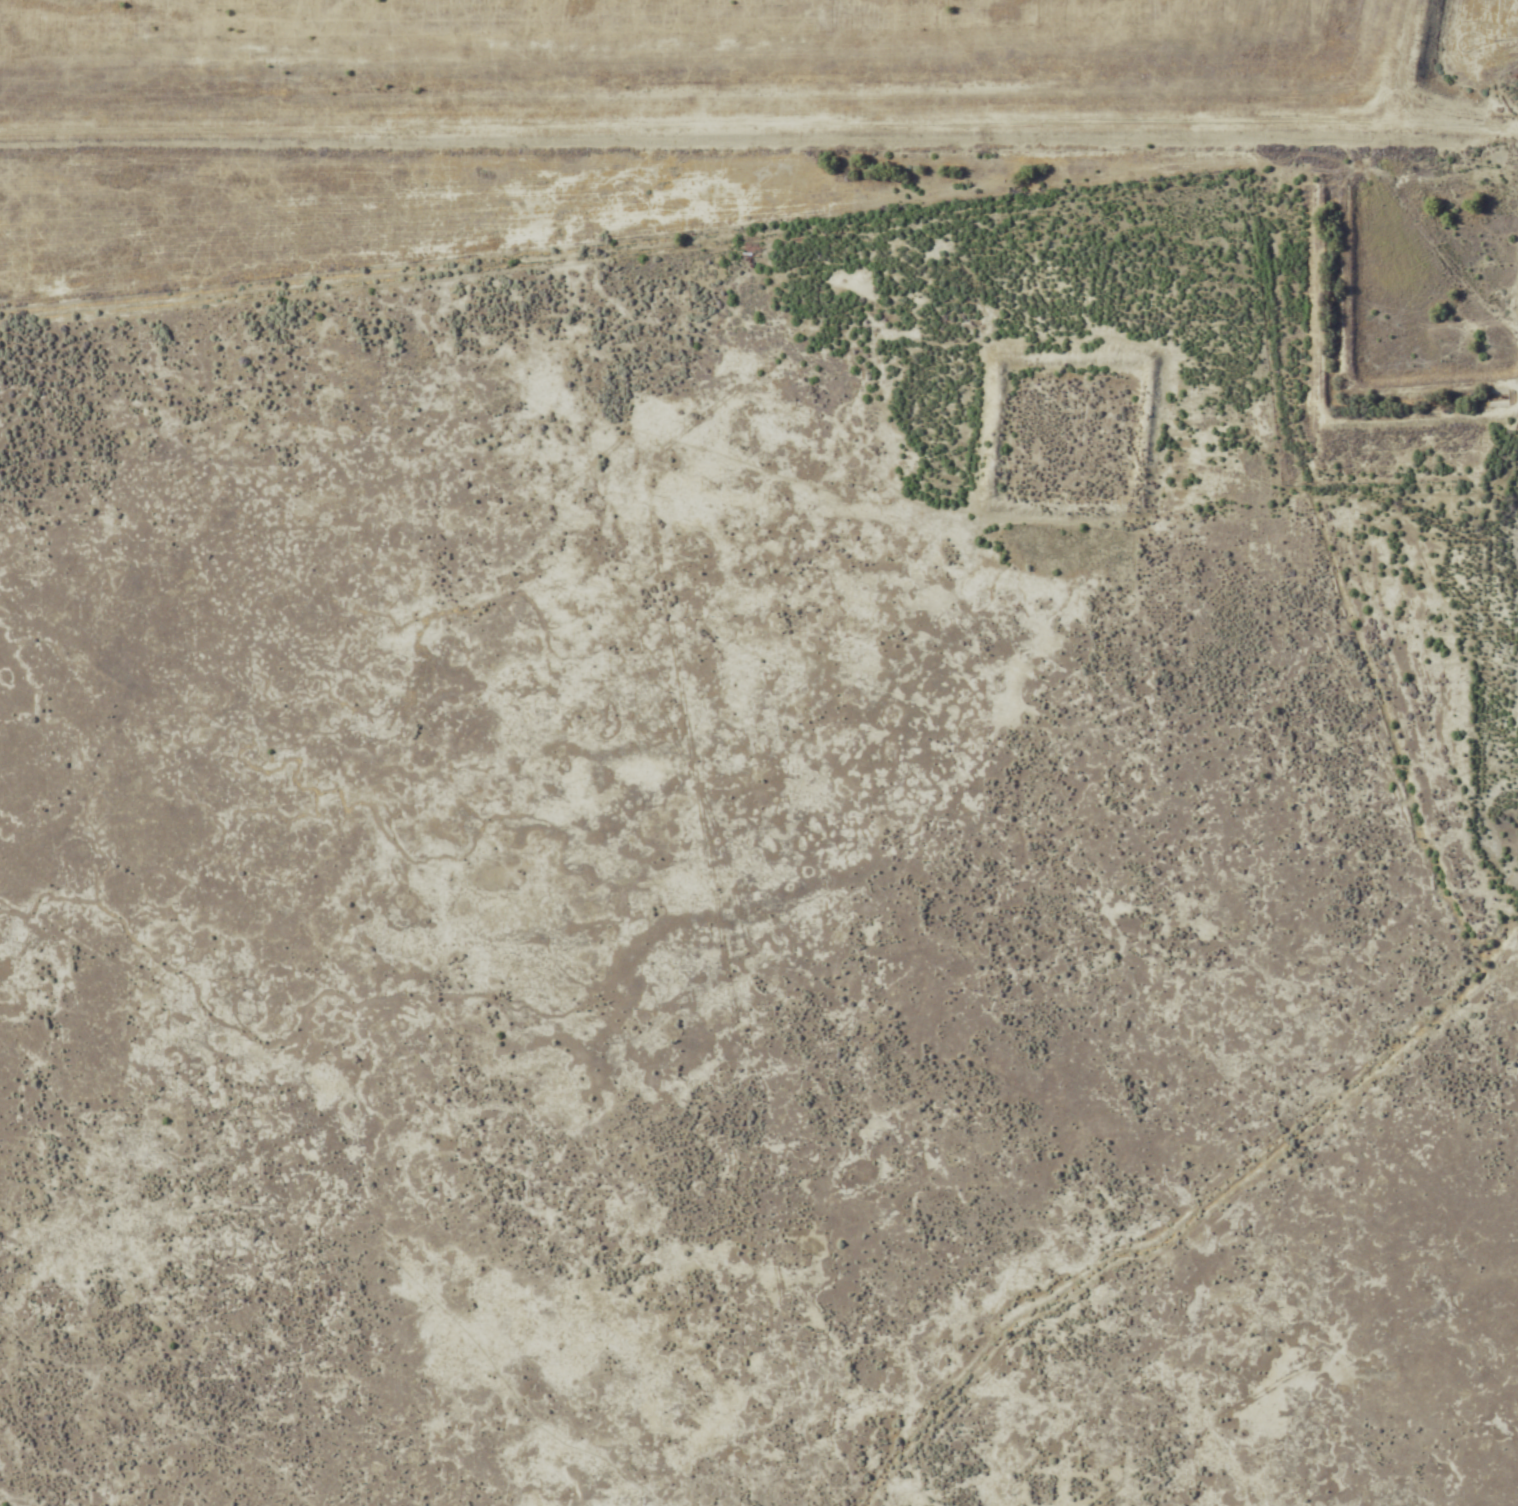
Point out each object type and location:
road: (759, 130)

